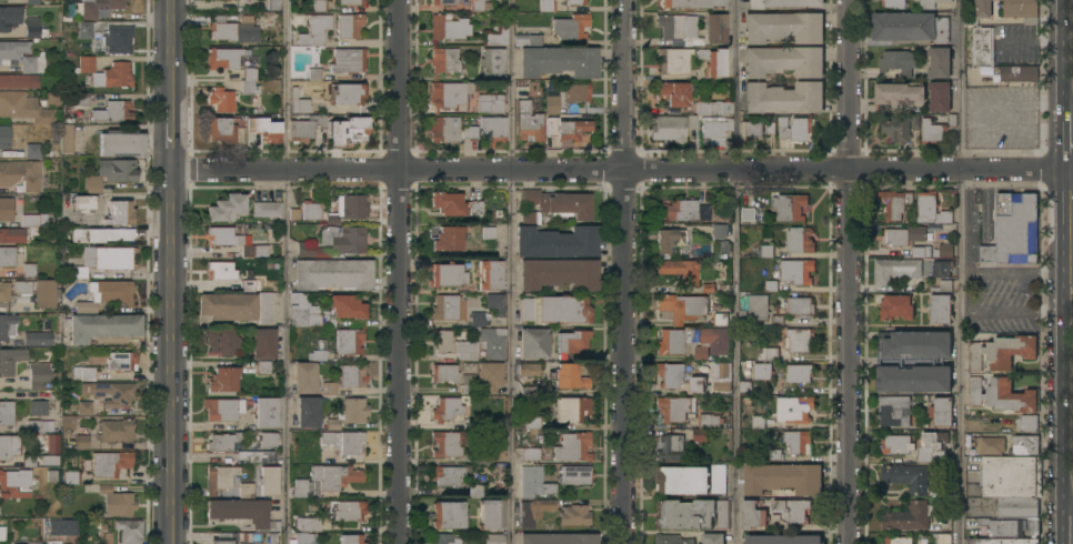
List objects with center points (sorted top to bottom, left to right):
building: (575, 1)
building: (31, 2)
building: (351, 2)
building: (443, 2)
building: (718, 2)
building: (784, 2)
building: (684, 3)
building: (894, 3)
building: (930, 3)
building: (272, 4)
building: (319, 6)
building: (477, 6)
building: (97, 7)
building: (1021, 10)
building: (979, 11)
building: (9, 17)
building: (350, 26)
building: (31, 27)
building: (570, 27)
building: (783, 27)
building: (448, 28)
building: (679, 28)
building: (715, 28)
building: (910, 28)
building: (233, 29)
building: (84, 30)
building: (315, 30)
building: (497, 38)
building: (118, 39)
building: (528, 39)
building: (983, 47)
building: (12, 51)
road: (1063, 51)
road: (172, 58)
building: (222, 58)
building: (348, 60)
building: (444, 60)
building: (558, 61)
building: (672, 61)
building: (712, 61)
building: (784, 61)
building: (899, 61)
building: (491, 62)
building: (939, 62)
building: (32, 63)
building: (106, 72)
building: (1017, 73)
building: (19, 81)
building: (249, 81)
building: (522, 90)
building: (574, 92)
building: (674, 92)
building: (348, 93)
building: (449, 93)
building: (900, 93)
building: (939, 97)
building: (783, 98)
building: (81, 99)
building: (221, 99)
building: (299, 102)
building: (490, 103)
building: (551, 104)
building: (28, 107)
building: (702, 108)
building: (726, 108)
building: (112, 111)
building: (692, 121)
building: (528, 122)
building: (223, 128)
building: (305, 128)
building: (351, 128)
building: (492, 128)
building: (668, 128)
building: (263, 129)
building: (443, 129)
building: (565, 129)
building: (715, 129)
building: (896, 129)
building: (751, 130)
building: (794, 130)
building: (469, 132)
building: (932, 133)
building: (7, 138)
building: (66, 138)
building: (121, 143)
road: (172, 143)
building: (32, 150)
road: (622, 170)
building: (110, 173)
building: (21, 174)
building: (83, 202)
building: (894, 203)
building: (453, 204)
building: (554, 204)
building: (227, 208)
building: (348, 208)
building: (789, 208)
building: (6, 209)
building: (267, 209)
building: (310, 210)
building: (931, 210)
building: (683, 211)
building: (119, 213)
building: (748, 215)
building: (29, 220)
building: (719, 231)
building: (1013, 231)
building: (488, 232)
building: (101, 234)
building: (12, 235)
building: (227, 236)
building: (903, 236)
building: (343, 239)
building: (447, 239)
building: (669, 240)
building: (800, 240)
building: (556, 242)
building: (722, 248)
building: (254, 251)
building: (310, 251)
building: (765, 251)
building: (943, 251)
building: (921, 252)
building: (7, 256)
building: (113, 258)
building: (942, 269)
building: (29, 270)
building: (680, 270)
building: (895, 270)
building: (222, 271)
road: (734, 271)
building: (796, 271)
building: (77, 272)
road: (284, 272)
road: (401, 272)
road: (509, 272)
road: (625, 272)
road: (850, 272)
road: (959, 272)
building: (559, 273)
building: (332, 274)
building: (447, 274)
building: (490, 275)
building: (251, 285)
road: (969, 285)
building: (21, 286)
building: (945, 286)
building: (709, 288)
building: (771, 288)
building: (114, 291)
building: (6, 293)
building: (44, 293)
building: (299, 298)
building: (495, 303)
building: (228, 305)
building: (86, 306)
building: (347, 306)
building: (444, 306)
building: (682, 306)
building: (800, 306)
building: (264, 308)
building: (758, 308)
building: (896, 308)
building: (527, 309)
building: (562, 309)
building: (939, 309)
building: (304, 316)
building: (477, 319)
building: (720, 320)
building: (8, 326)
building: (101, 326)
building: (37, 339)
building: (800, 340)
building: (223, 341)
building: (349, 341)
building: (571, 341)
building: (492, 342)
building: (533, 342)
building: (669, 342)
building: (263, 343)
building: (712, 343)
building: (452, 345)
building: (1002, 352)
building: (768, 354)
building: (317, 355)
road: (172, 357)
building: (10, 359)
building: (121, 361)
building: (937, 363)
building: (264, 366)
building: (529, 370)
building: (762, 372)
building: (83, 373)
building: (444, 373)
building: (799, 373)
building: (39, 374)
building: (672, 374)
building: (351, 375)
building: (489, 376)
building: (569, 376)
building: (304, 377)
building: (722, 377)
building: (223, 380)
building: (468, 383)
building: (696, 384)
building: (329, 387)
building: (745, 387)
road: (1061, 387)
building: (114, 393)
building: (1002, 395)
building: (84, 407)
building: (38, 409)
building: (445, 409)
building: (572, 409)
building: (673, 409)
building: (222, 410)
building: (794, 410)
building: (264, 411)
building: (308, 411)
building: (894, 411)
building: (941, 411)
building: (6, 413)
building: (349, 413)
building: (534, 422)
building: (758, 422)
building: (1027, 423)
building: (66, 424)
building: (39, 425)
building: (705, 426)
building: (116, 430)
building: (267, 440)
building: (81, 442)
building: (222, 442)
building: (343, 442)
building: (449, 443)
building: (798, 443)
building: (52, 444)
building: (895, 444)
building: (987, 445)
building: (1025, 445)
building: (9, 446)
building: (572, 446)
building: (670, 447)
building: (932, 447)
building: (530, 453)
building: (490, 455)
building: (257, 456)
building: (28, 460)
building: (49, 461)
building: (109, 464)
building: (447, 475)
building: (574, 475)
building: (1011, 476)
building: (69, 477)
building: (219, 477)
building: (907, 477)
building: (718, 478)
building: (782, 478)
building: (325, 480)
building: (268, 481)
building: (681, 481)
building: (534, 482)
building: (14, 484)
building: (245, 491)
building: (475, 491)
building: (117, 502)
building: (1017, 507)
building: (240, 511)
building: (345, 511)
building: (533, 511)
building: (792, 511)
building: (448, 514)
building: (692, 514)
building: (574, 515)
building: (753, 515)
building: (489, 516)
building: (909, 516)
building: (313, 523)
building: (61, 527)
building: (1002, 527)
building: (1032, 527)
building: (129, 531)
building: (1, 533)
building: (104, 537)
building: (222, 538)
building: (302, 538)
building: (350, 538)
building: (443, 538)
building: (493, 538)
building: (556, 538)
building: (712, 538)
building: (941, 538)
building: (671, 540)
building: (783, 540)
building: (897, 541)
building: (1001, 541)
building: (37, 542)
building: (18, 543)

